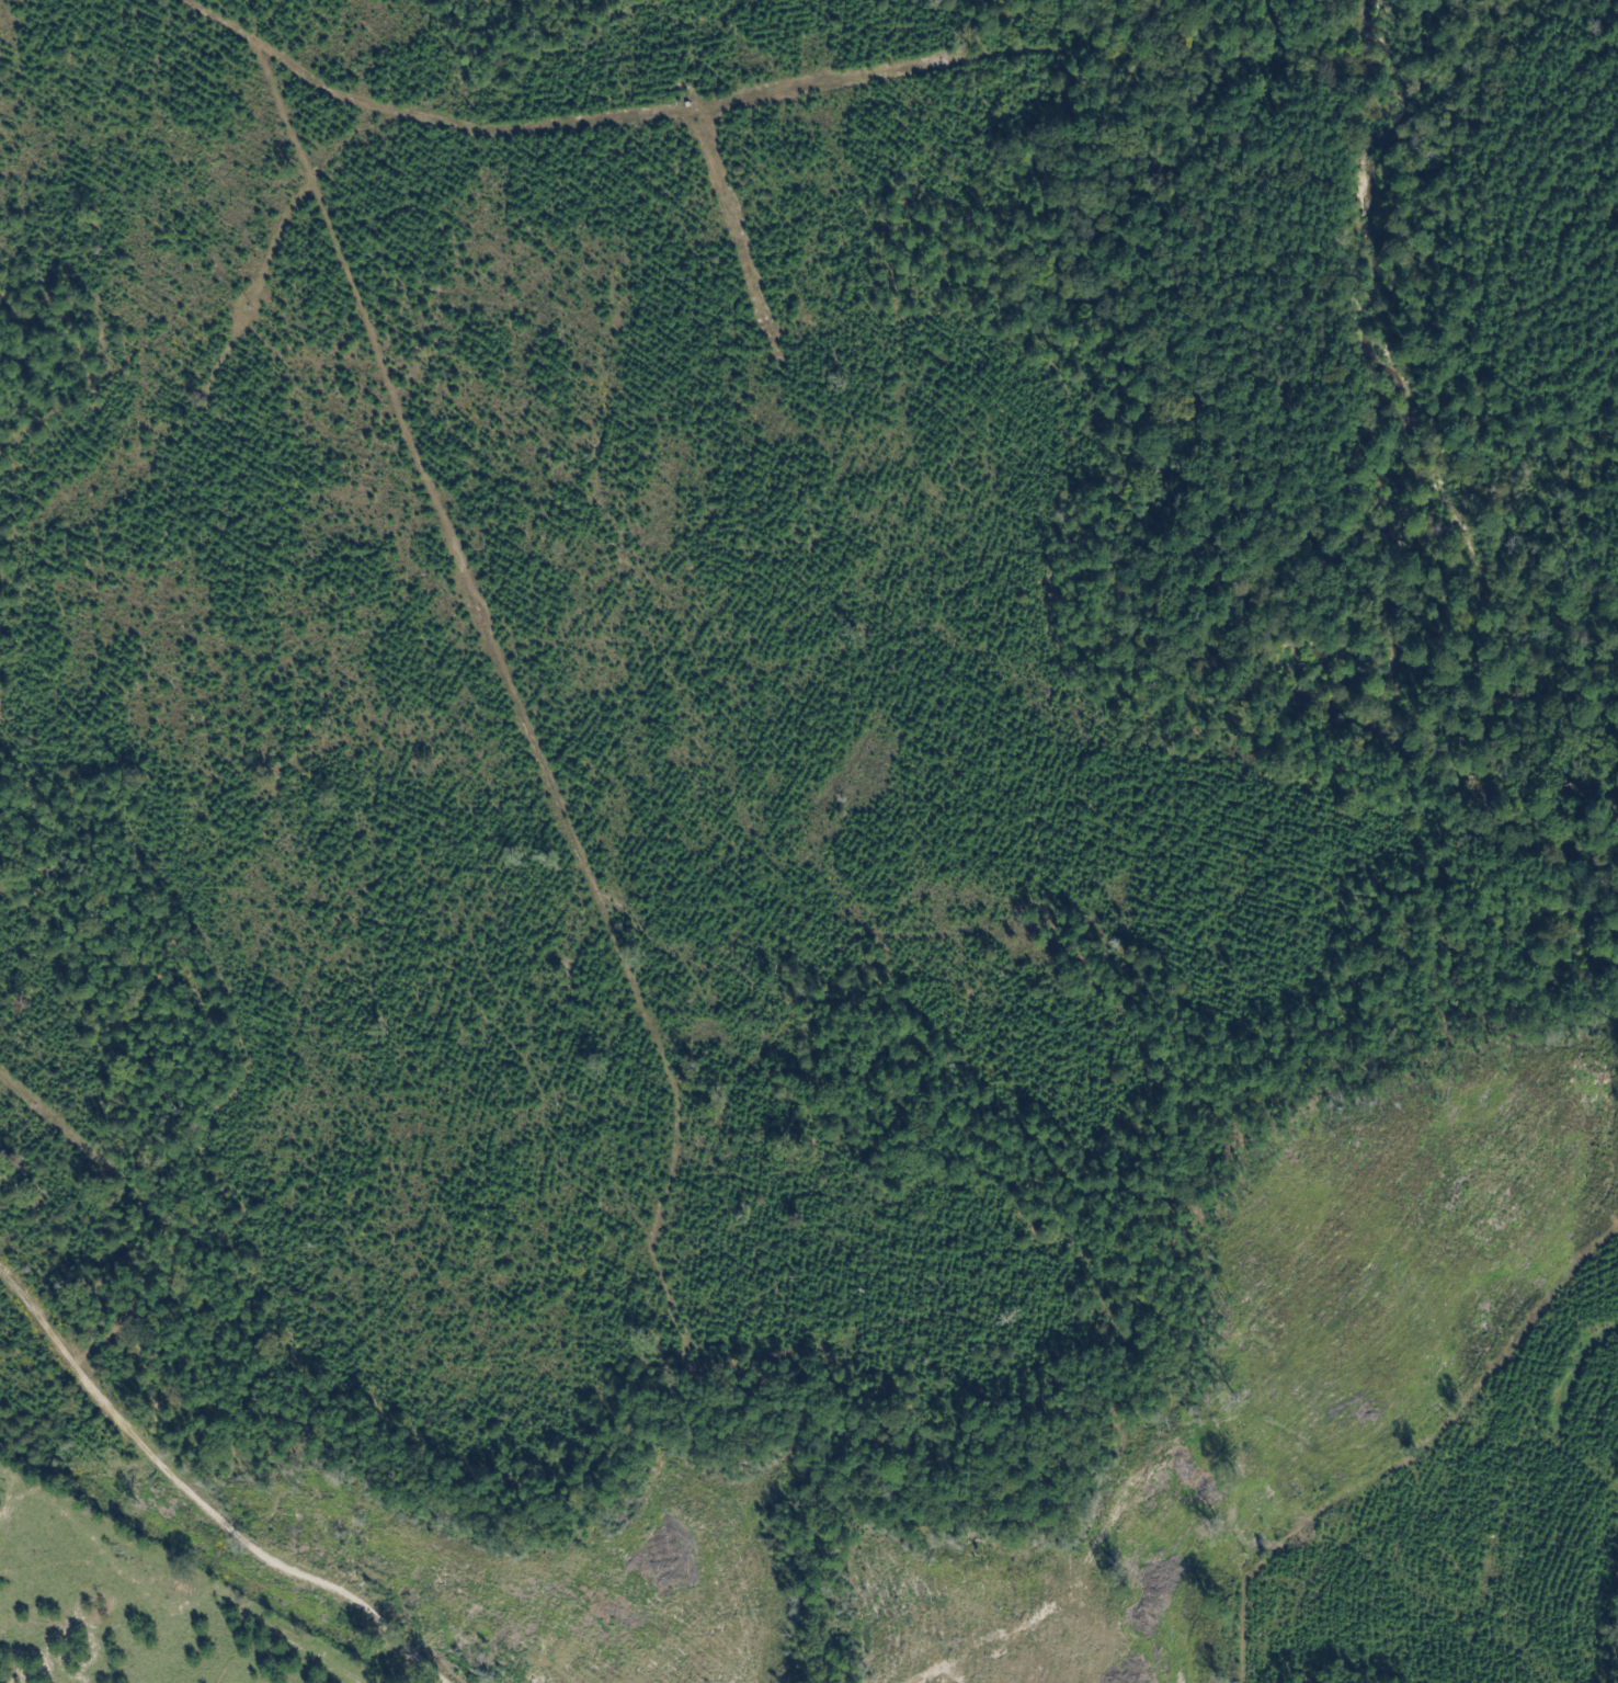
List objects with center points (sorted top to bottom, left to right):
road: (773, 863)
road: (1446, 1265)
road: (226, 1494)

